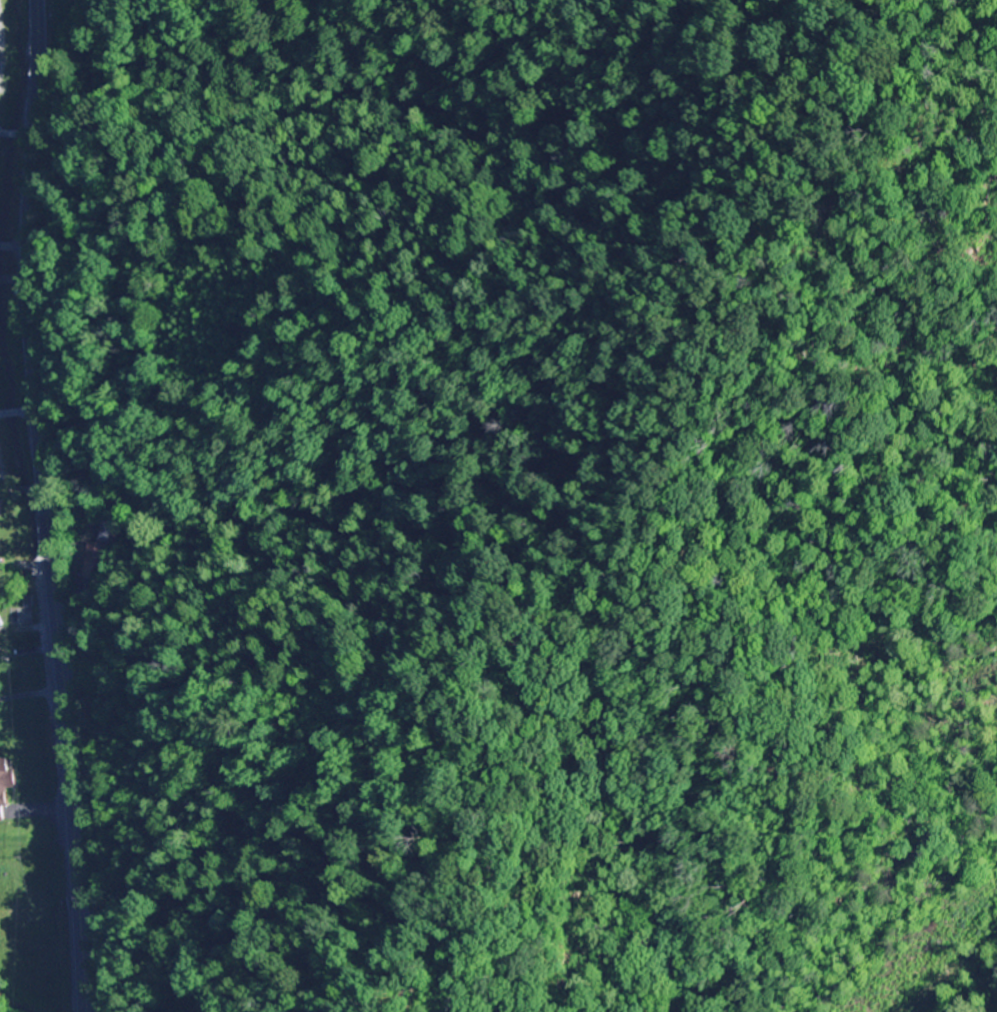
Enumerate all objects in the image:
road: (43, 506)
building: (99, 554)
building: (1, 623)
building: (5, 784)

